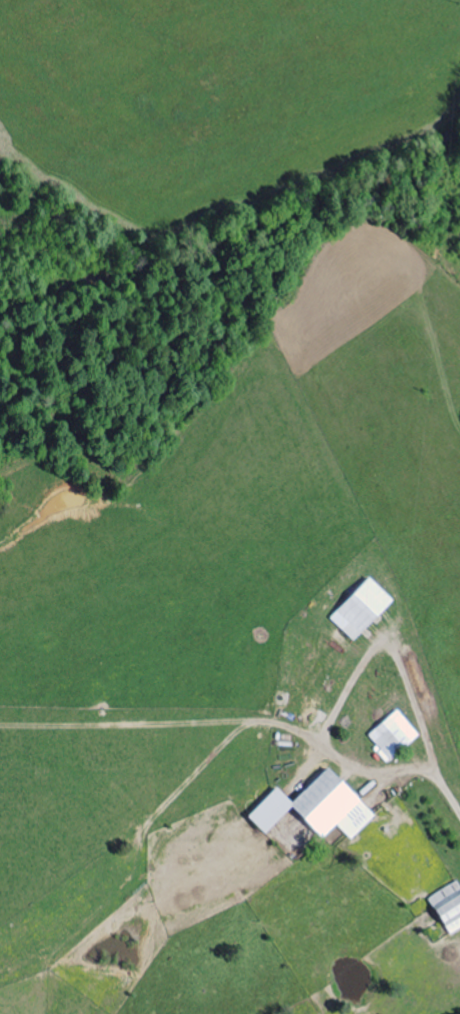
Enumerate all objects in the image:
building: (365, 609)
building: (396, 736)
road: (432, 738)
building: (337, 806)
building: (450, 906)

